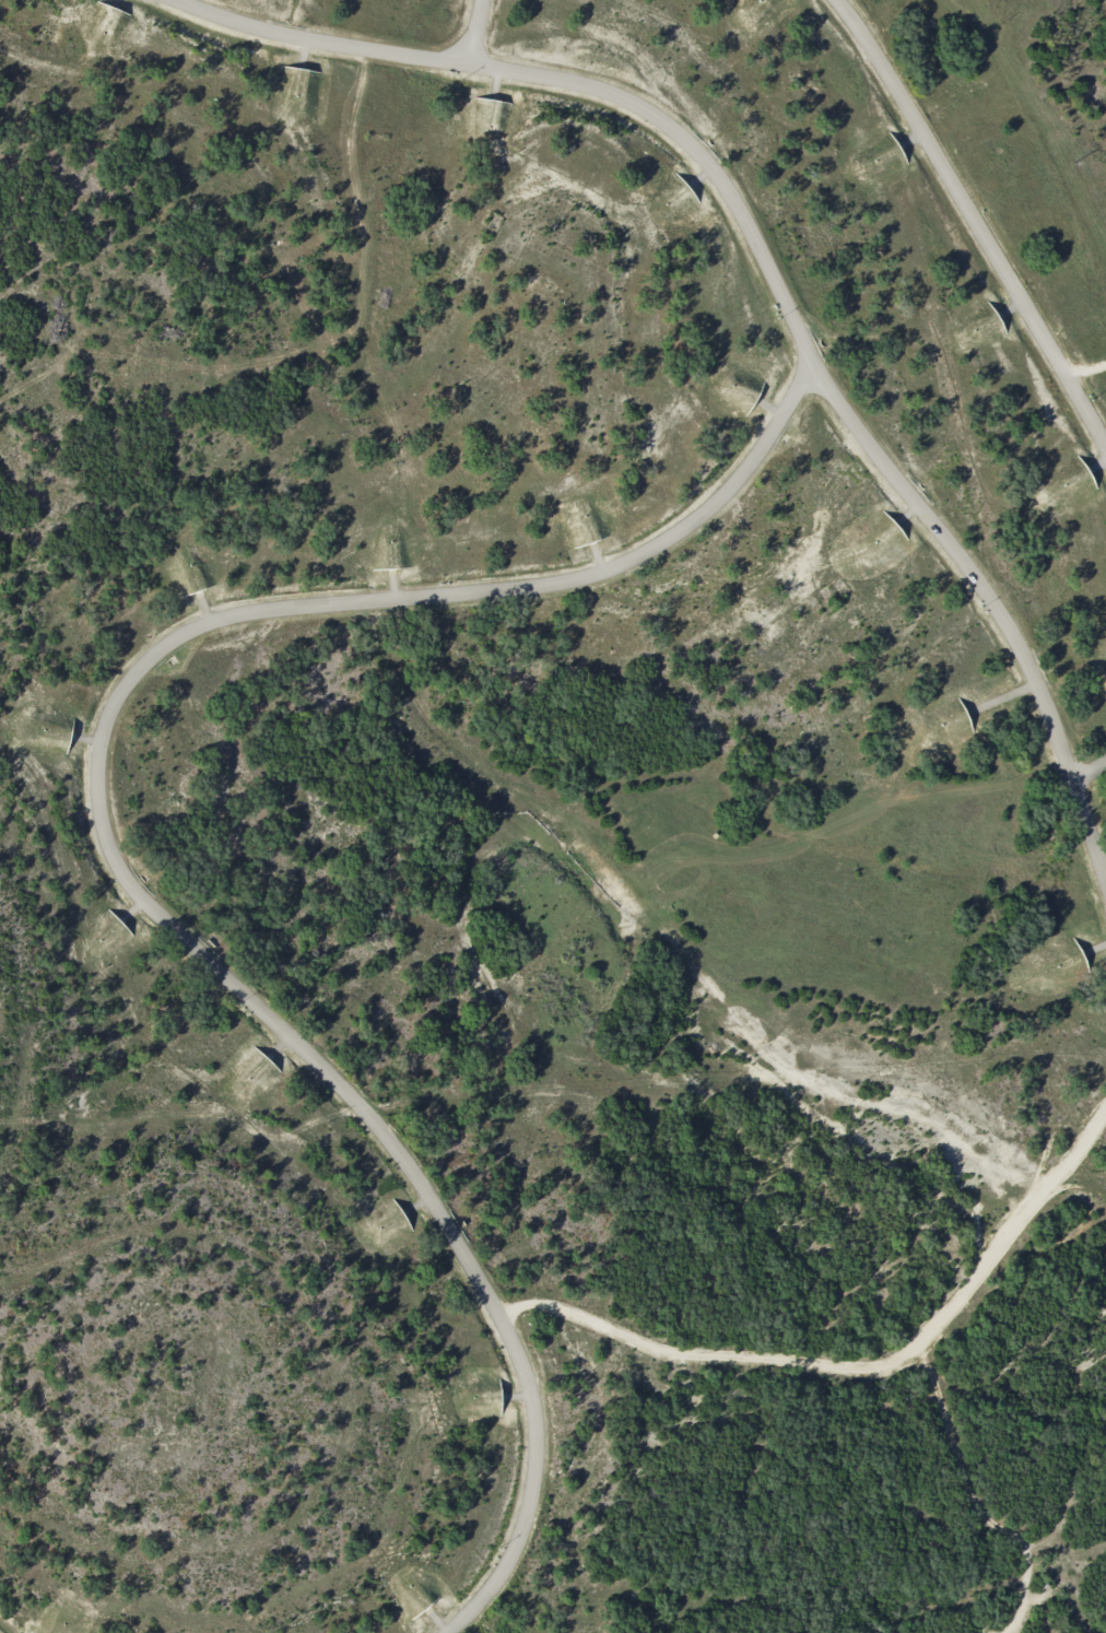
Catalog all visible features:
road: (479, 33)
road: (976, 221)
road: (770, 275)
road: (1090, 774)
road: (104, 838)
road: (851, 1365)

